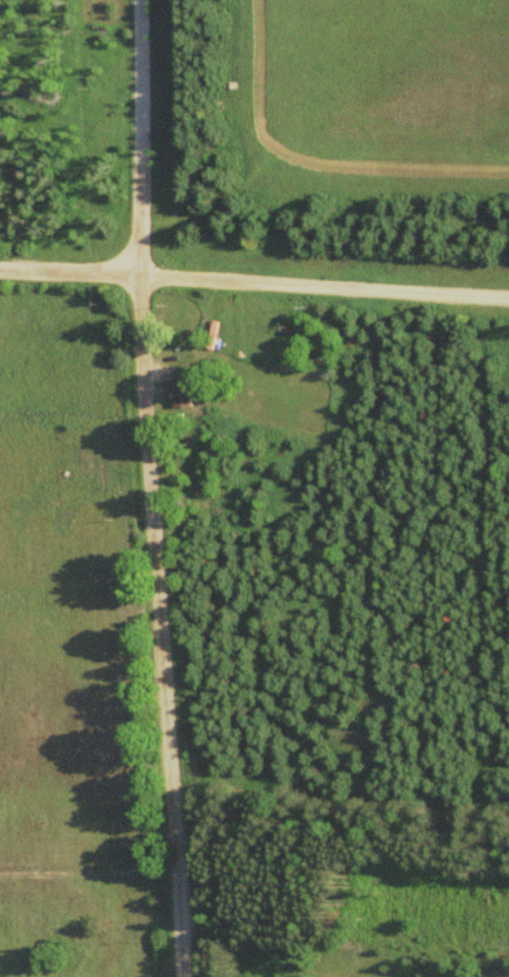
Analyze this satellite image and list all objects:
road: (71, 272)
road: (326, 283)
building: (187, 391)
road: (157, 488)

